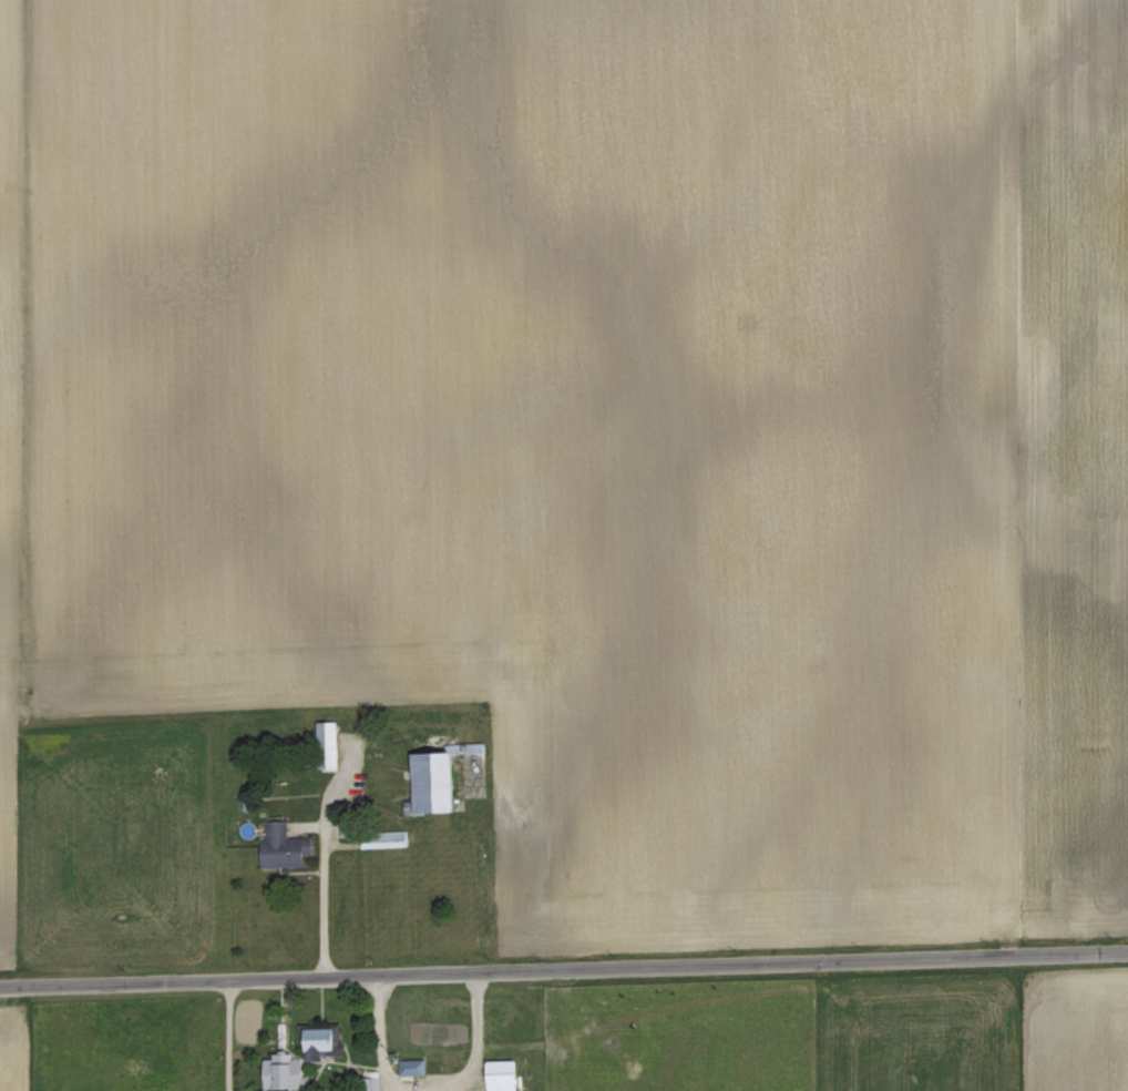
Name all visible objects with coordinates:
building: (328, 730)
building: (437, 778)
building: (284, 844)
road: (319, 889)
road: (563, 968)
road: (225, 1034)
road: (375, 1034)
building: (504, 1074)

